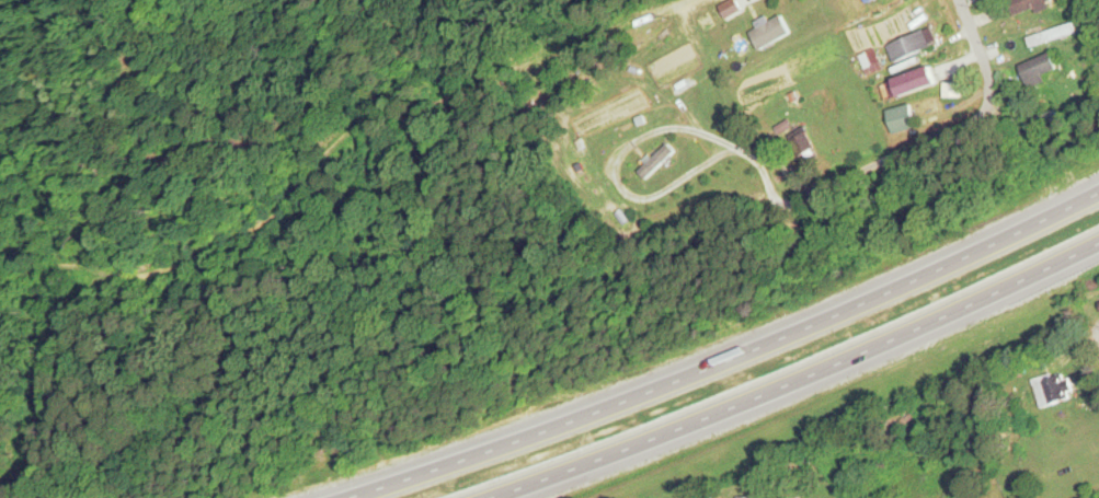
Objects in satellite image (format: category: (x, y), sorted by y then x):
building: (867, 0)
building: (1028, 4)
building: (744, 5)
building: (875, 26)
building: (913, 43)
building: (870, 58)
building: (1039, 68)
building: (913, 81)
building: (903, 117)
building: (1042, 119)
road: (954, 134)
road: (333, 146)
building: (657, 160)
road: (1096, 331)
road: (726, 358)
road: (803, 380)
building: (1052, 387)
building: (766, 497)

